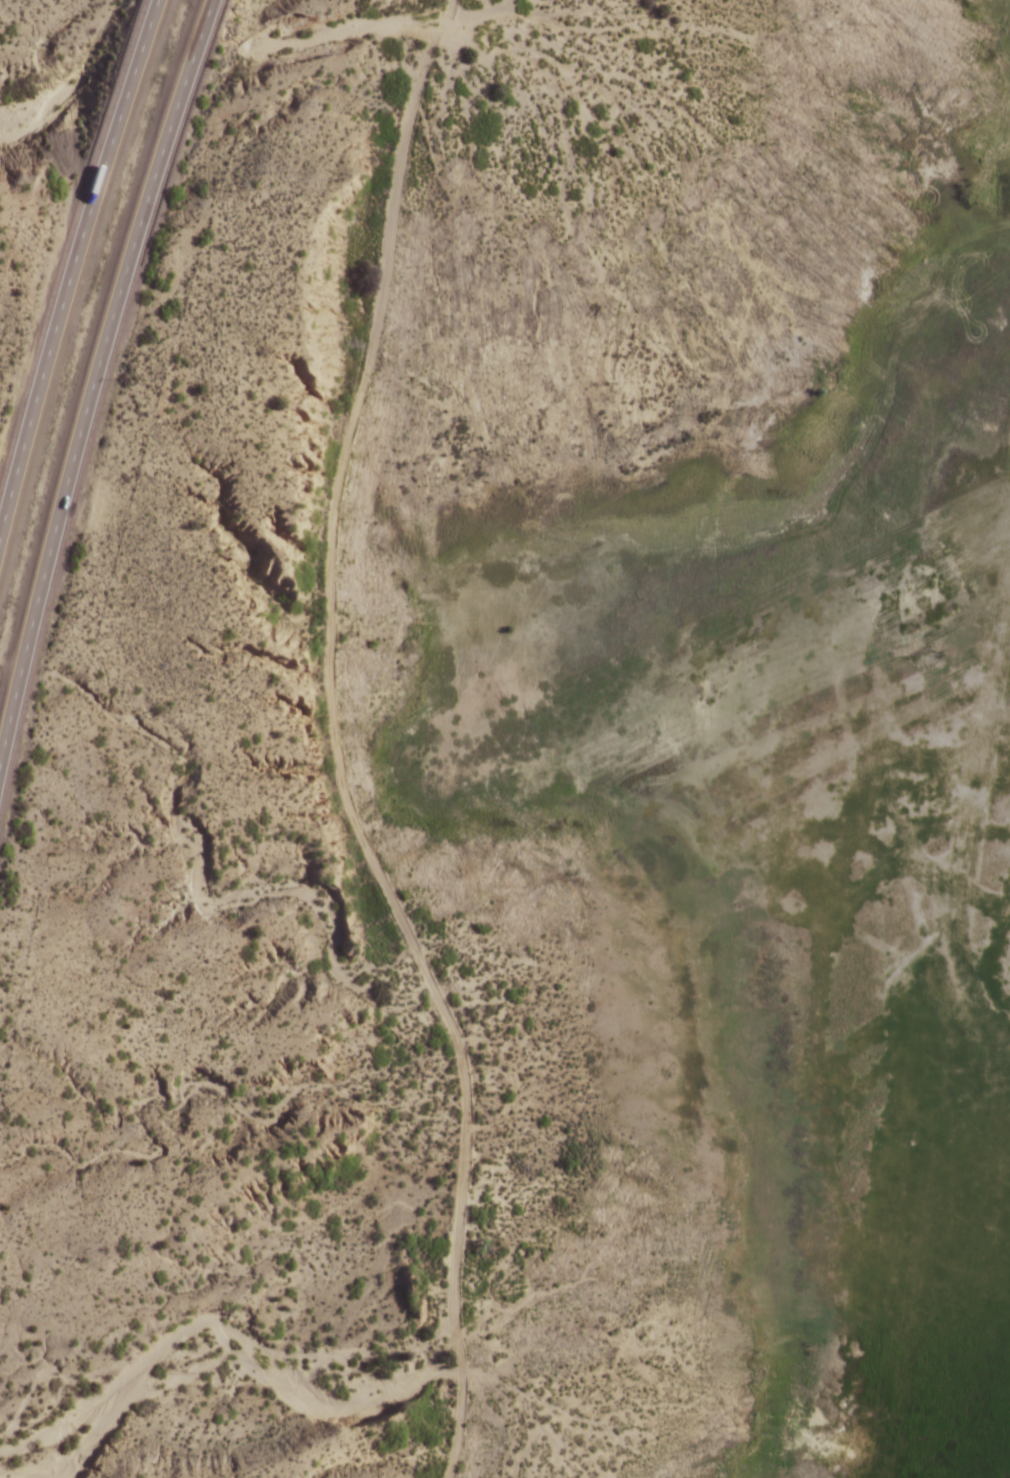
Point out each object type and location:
road: (450, 2)
road: (442, 21)
river: (164, 64)
river: (47, 103)
river: (731, 215)
road: (71, 269)
road: (95, 376)
road: (342, 764)
river: (385, 1396)
river: (86, 1451)

